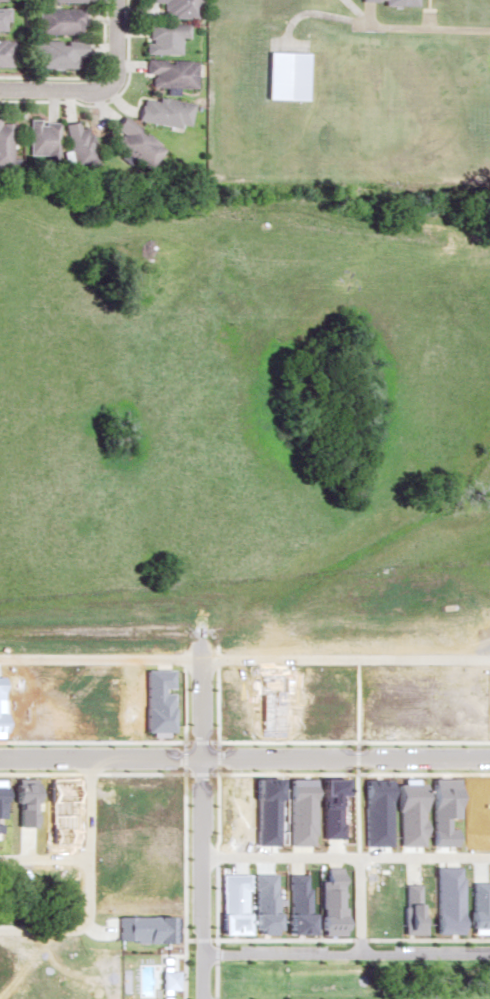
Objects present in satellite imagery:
building: (2, 0)
building: (57, 0)
building: (394, 2)
building: (177, 8)
building: (3, 19)
building: (58, 20)
building: (162, 36)
building: (6, 51)
building: (54, 54)
building: (170, 70)
building: (282, 74)
road: (95, 85)
building: (162, 110)
building: (43, 137)
building: (78, 141)
building: (135, 141)
building: (5, 143)
road: (453, 995)

